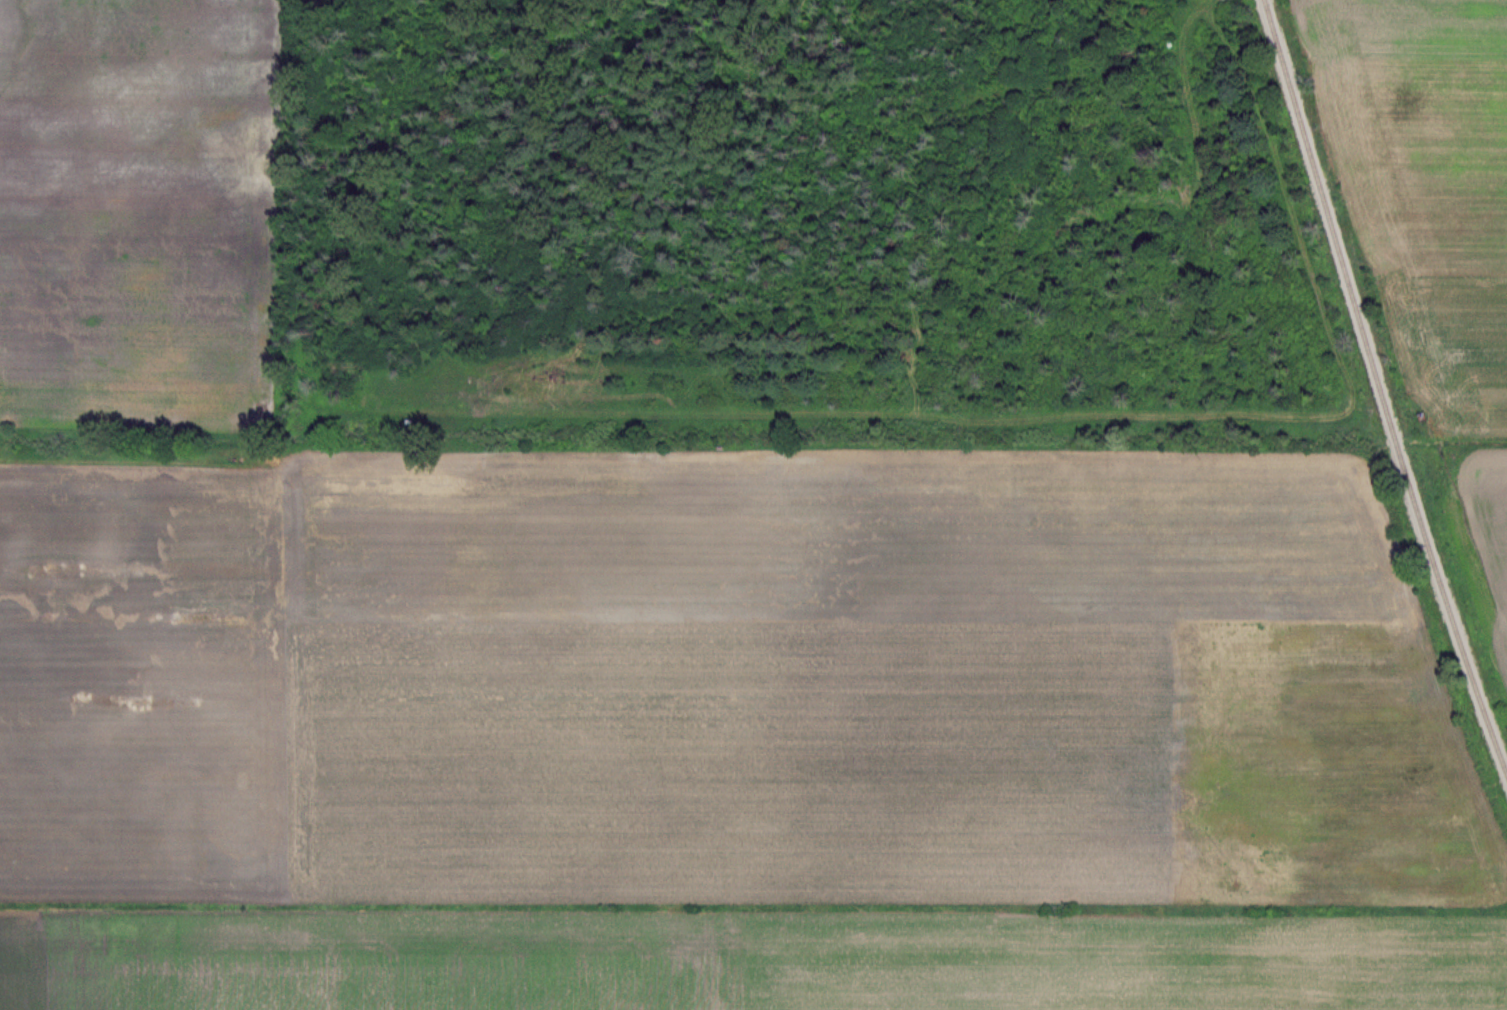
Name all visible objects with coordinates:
railway: (1381, 385)

